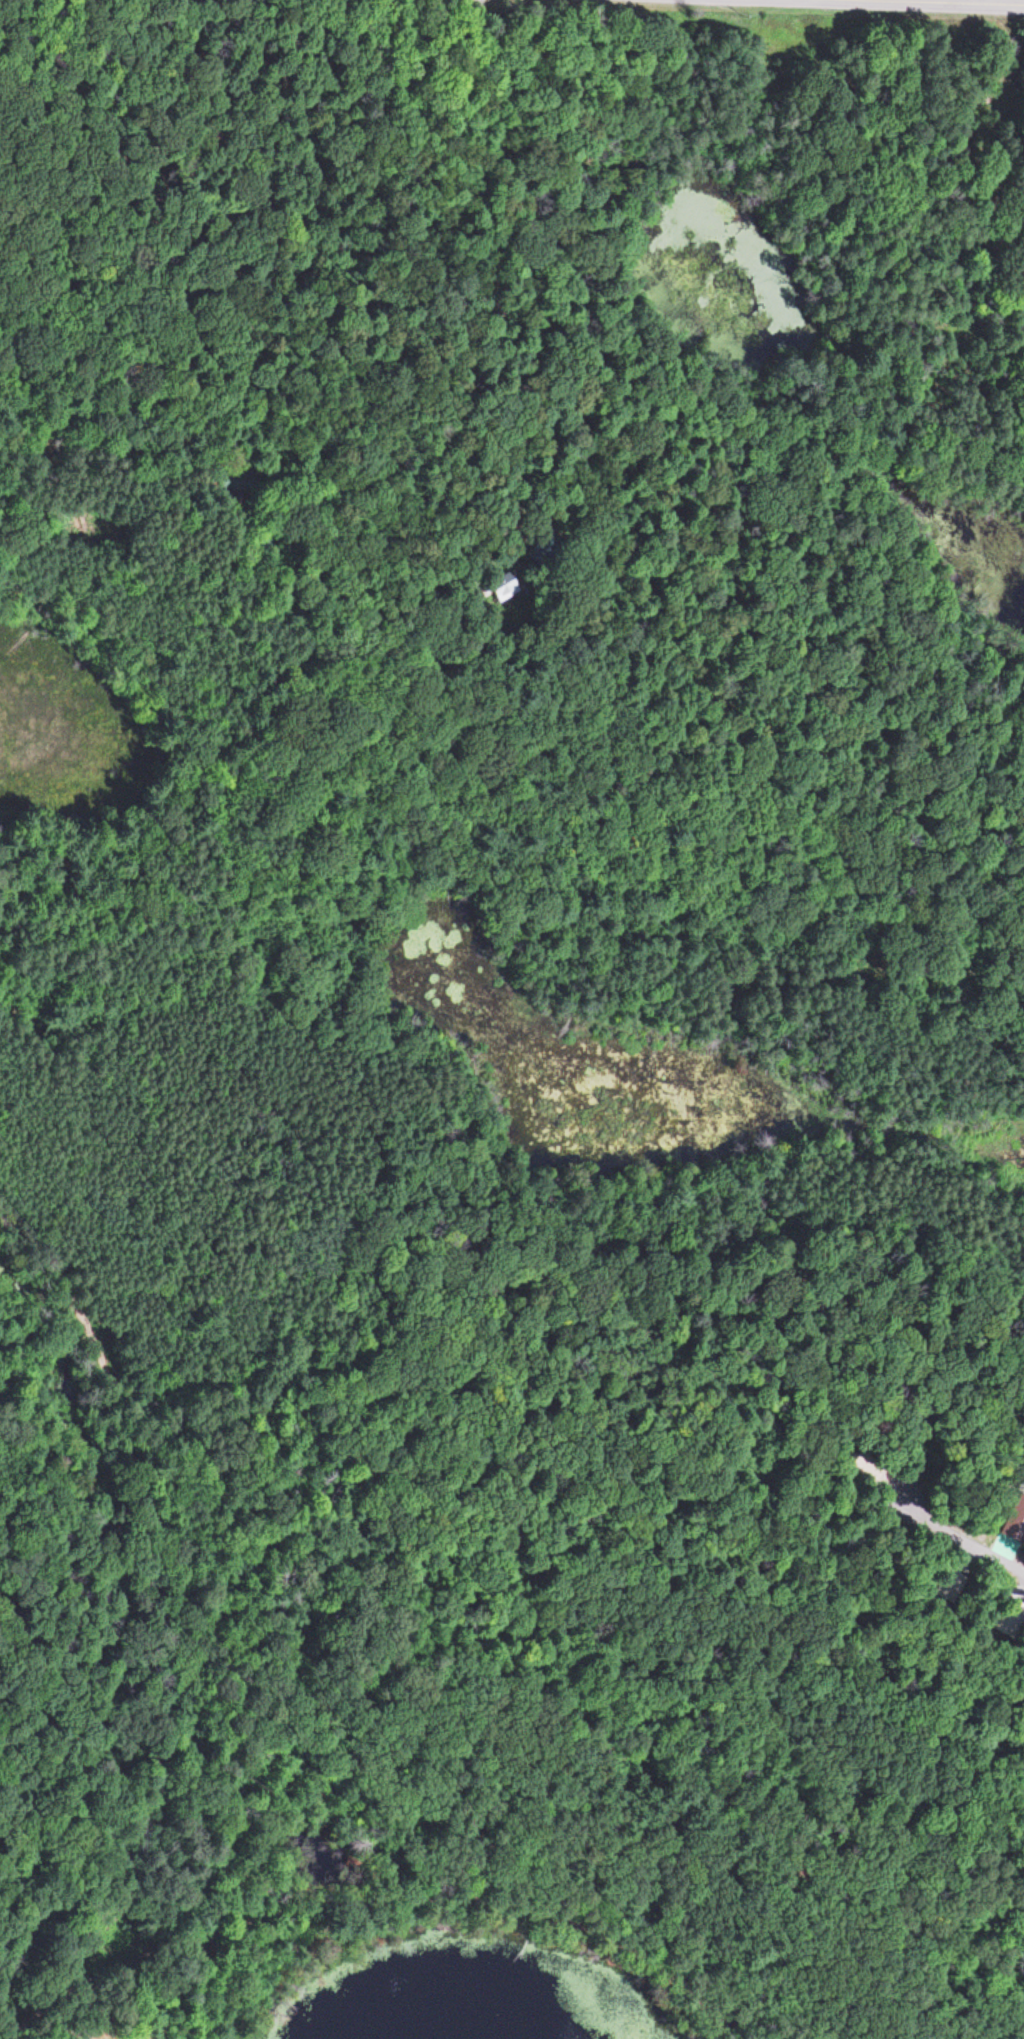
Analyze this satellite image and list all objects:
road: (937, 3)
road: (42, 91)
building: (506, 589)
road: (964, 1541)
building: (947, 1584)
road: (153, 1591)
building: (1010, 1613)
road: (416, 1890)
road: (30, 2018)

